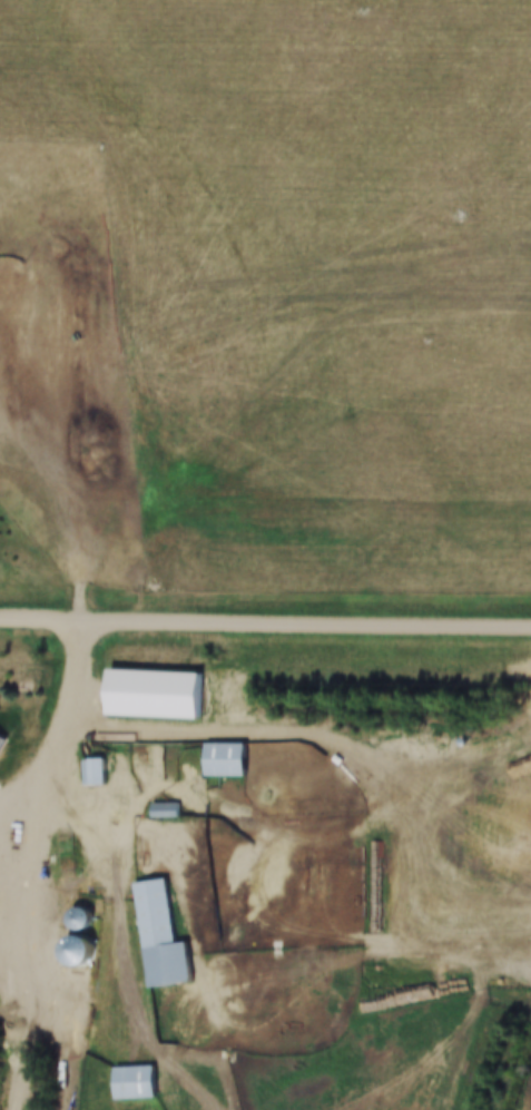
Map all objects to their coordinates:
road: (265, 622)
road: (75, 682)
building: (148, 694)
road: (212, 727)
building: (1, 740)
building: (220, 759)
road: (28, 773)
building: (91, 794)
building: (163, 809)
road: (40, 822)
building: (156, 935)
road: (24, 959)
road: (16, 1078)
building: (130, 1081)

